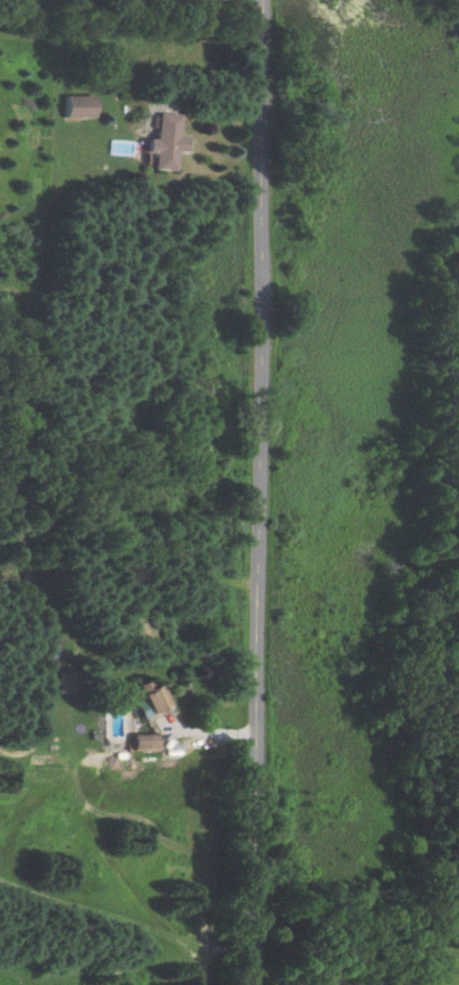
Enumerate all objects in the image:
building: (78, 106)
building: (162, 142)
road: (262, 492)
building: (149, 700)
road: (208, 731)
building: (142, 742)

